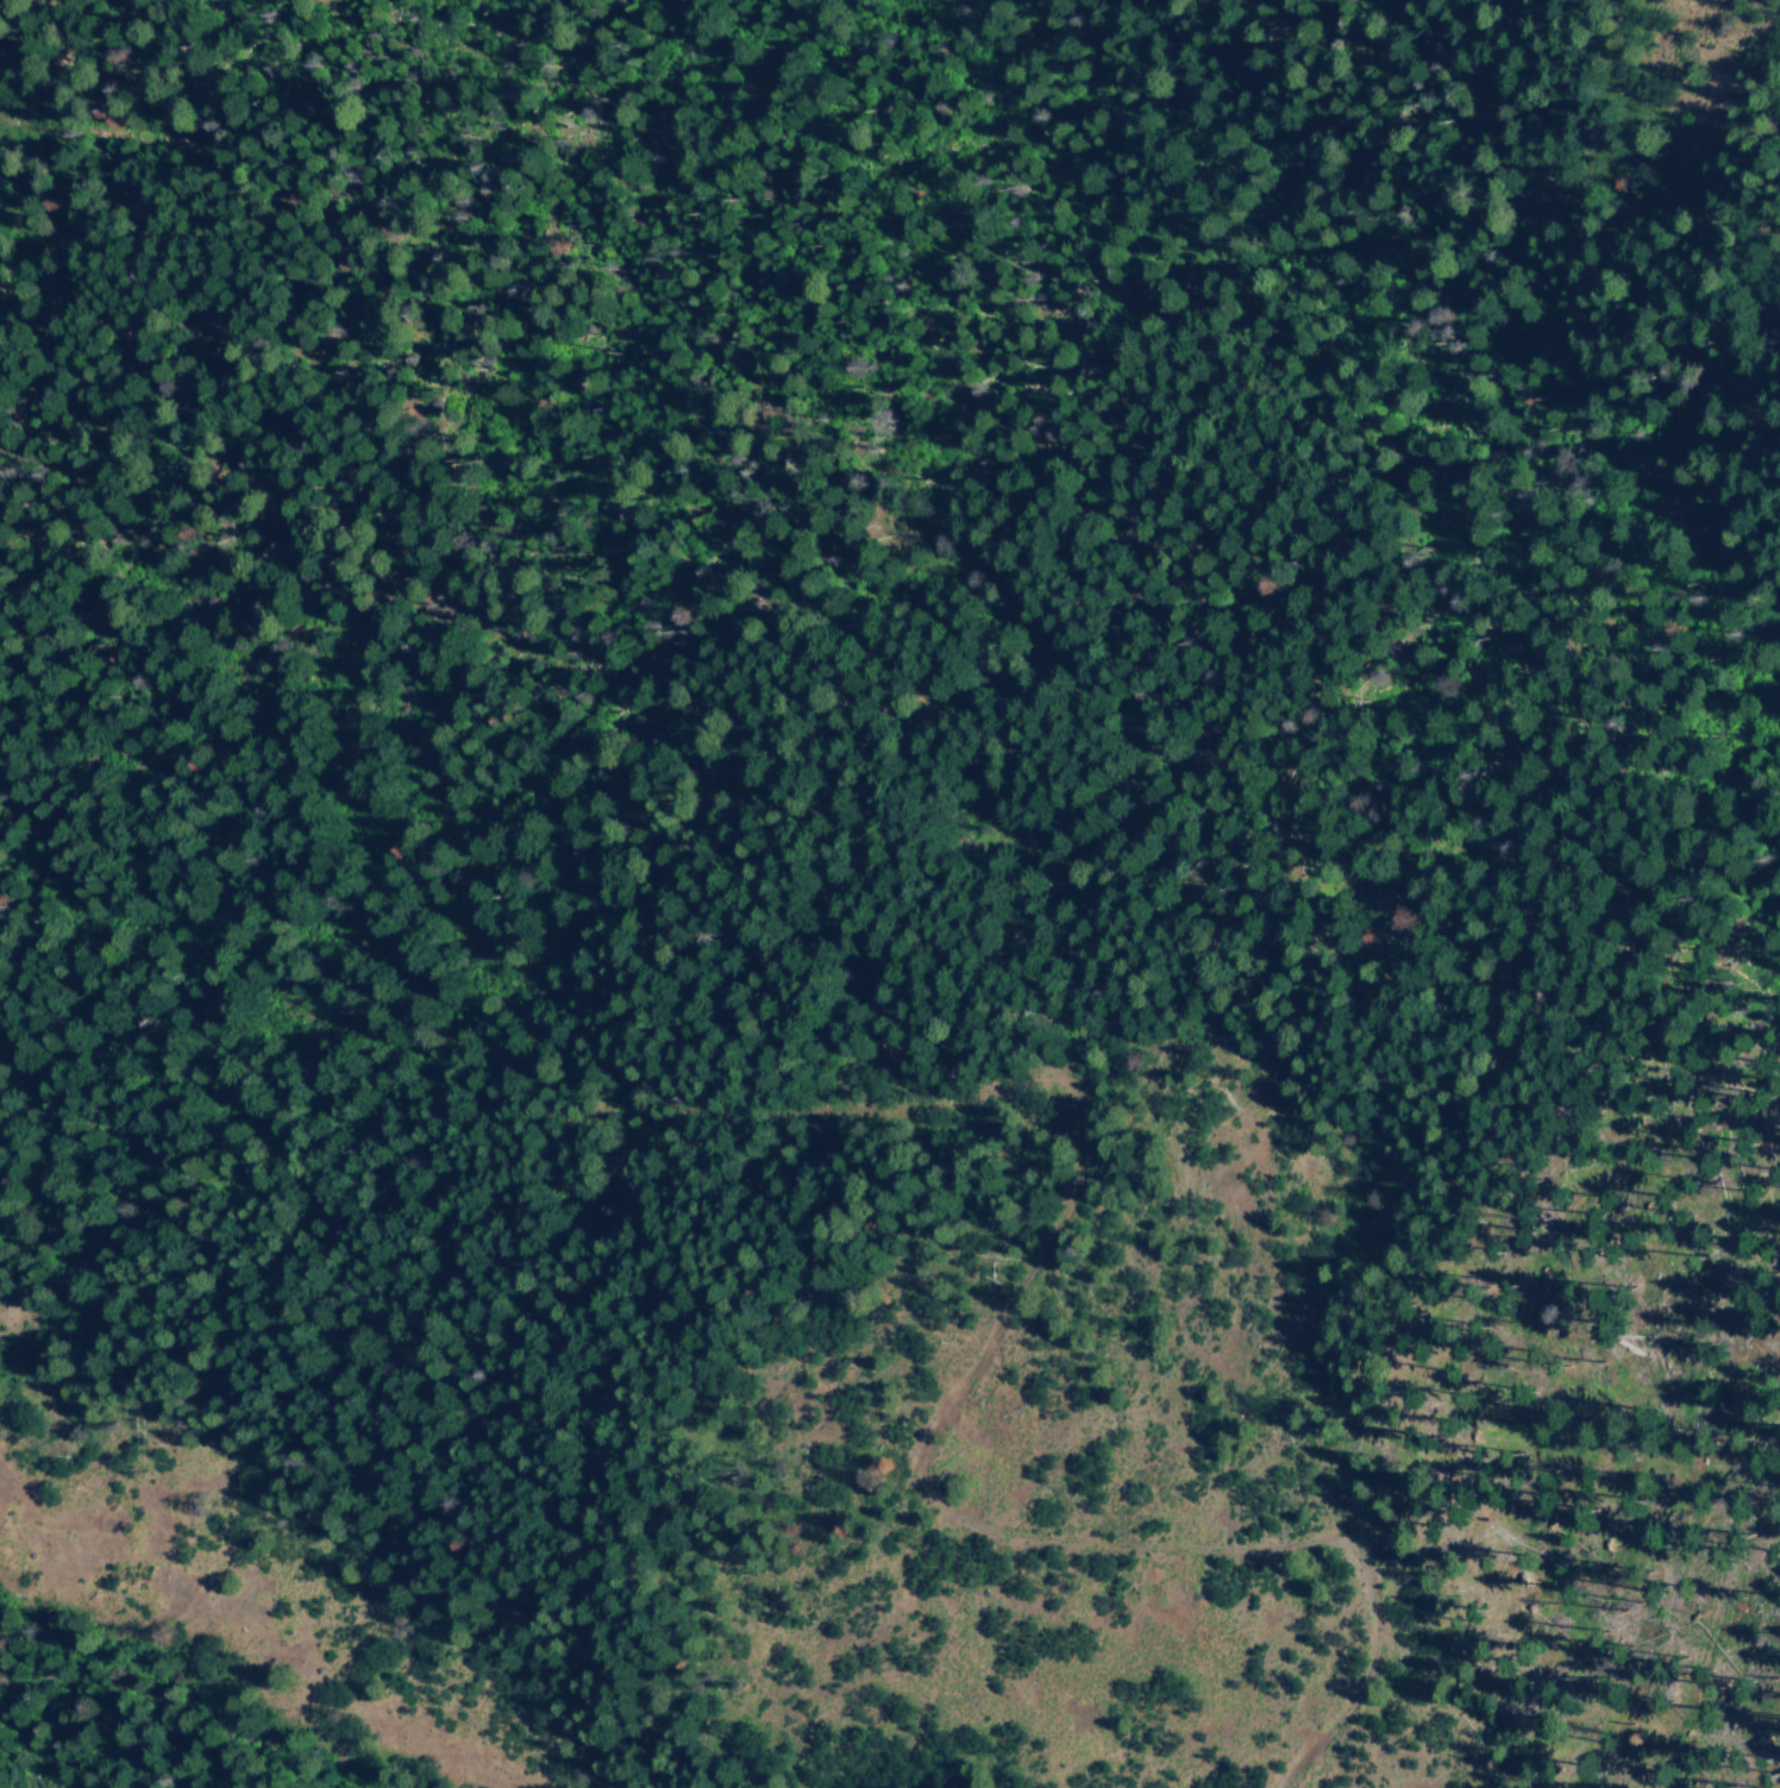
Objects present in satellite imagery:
road: (1004, 1305)

